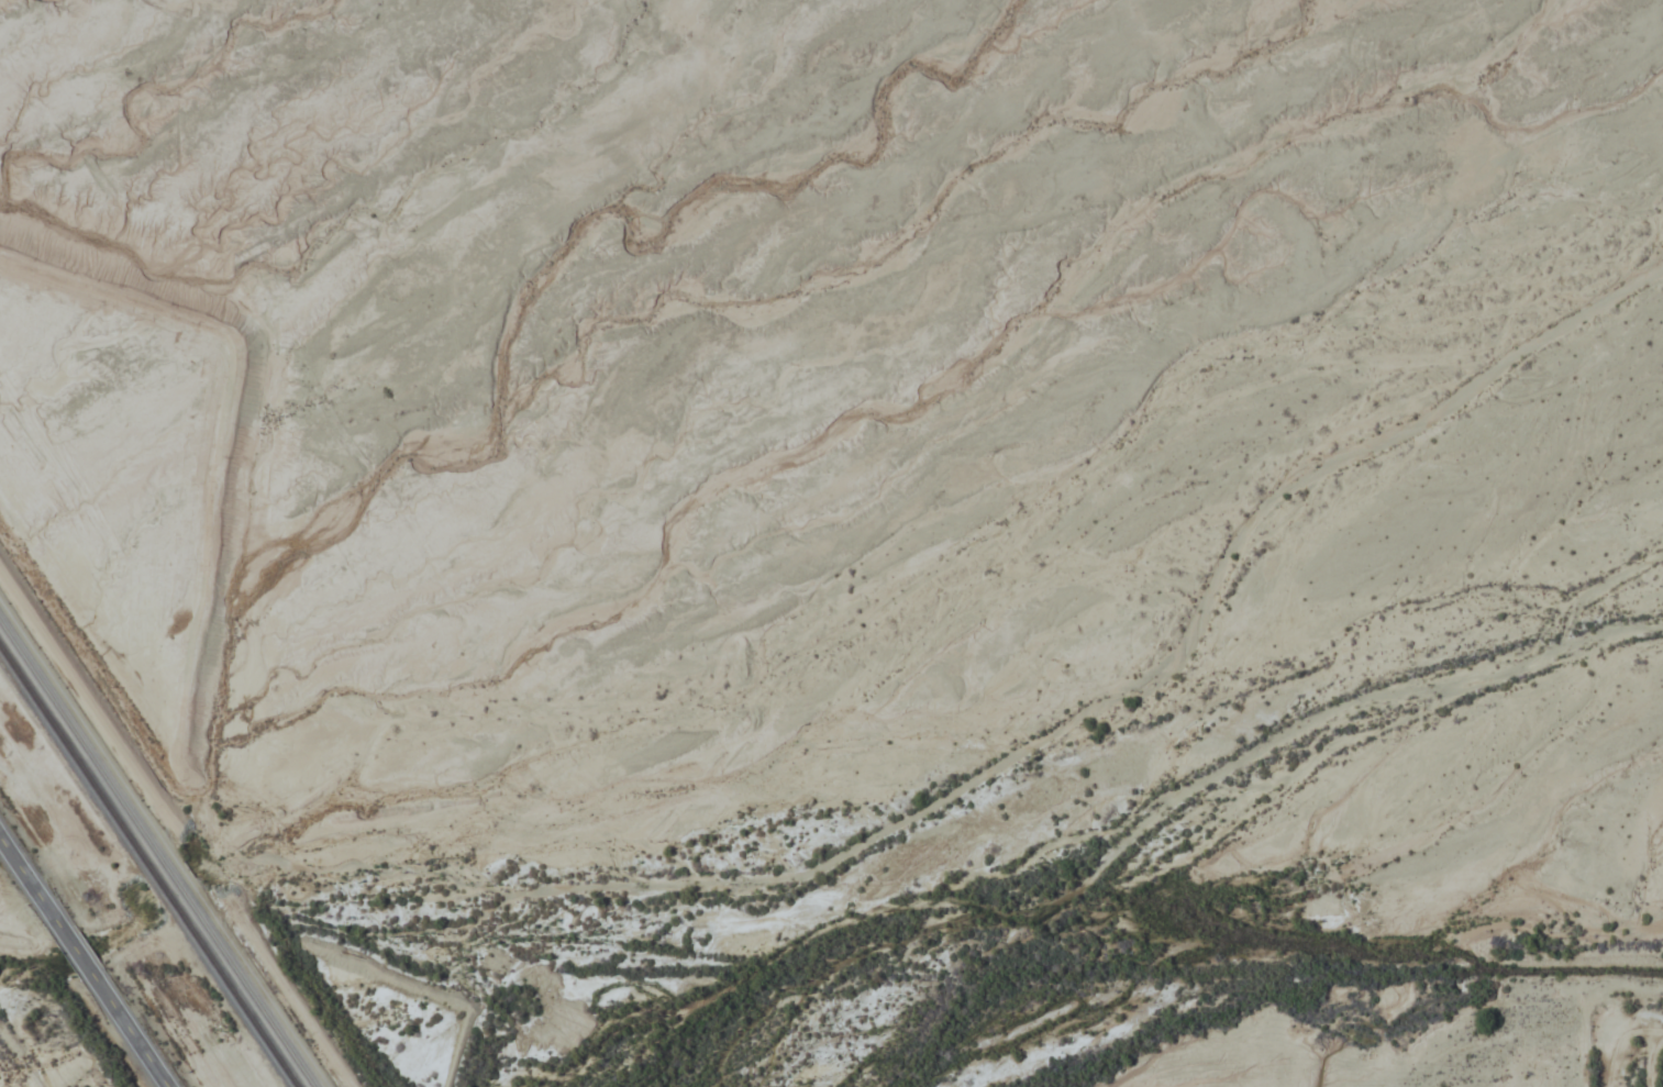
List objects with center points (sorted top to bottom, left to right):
railway: (160, 848)
railway: (149, 864)
road: (85, 961)

